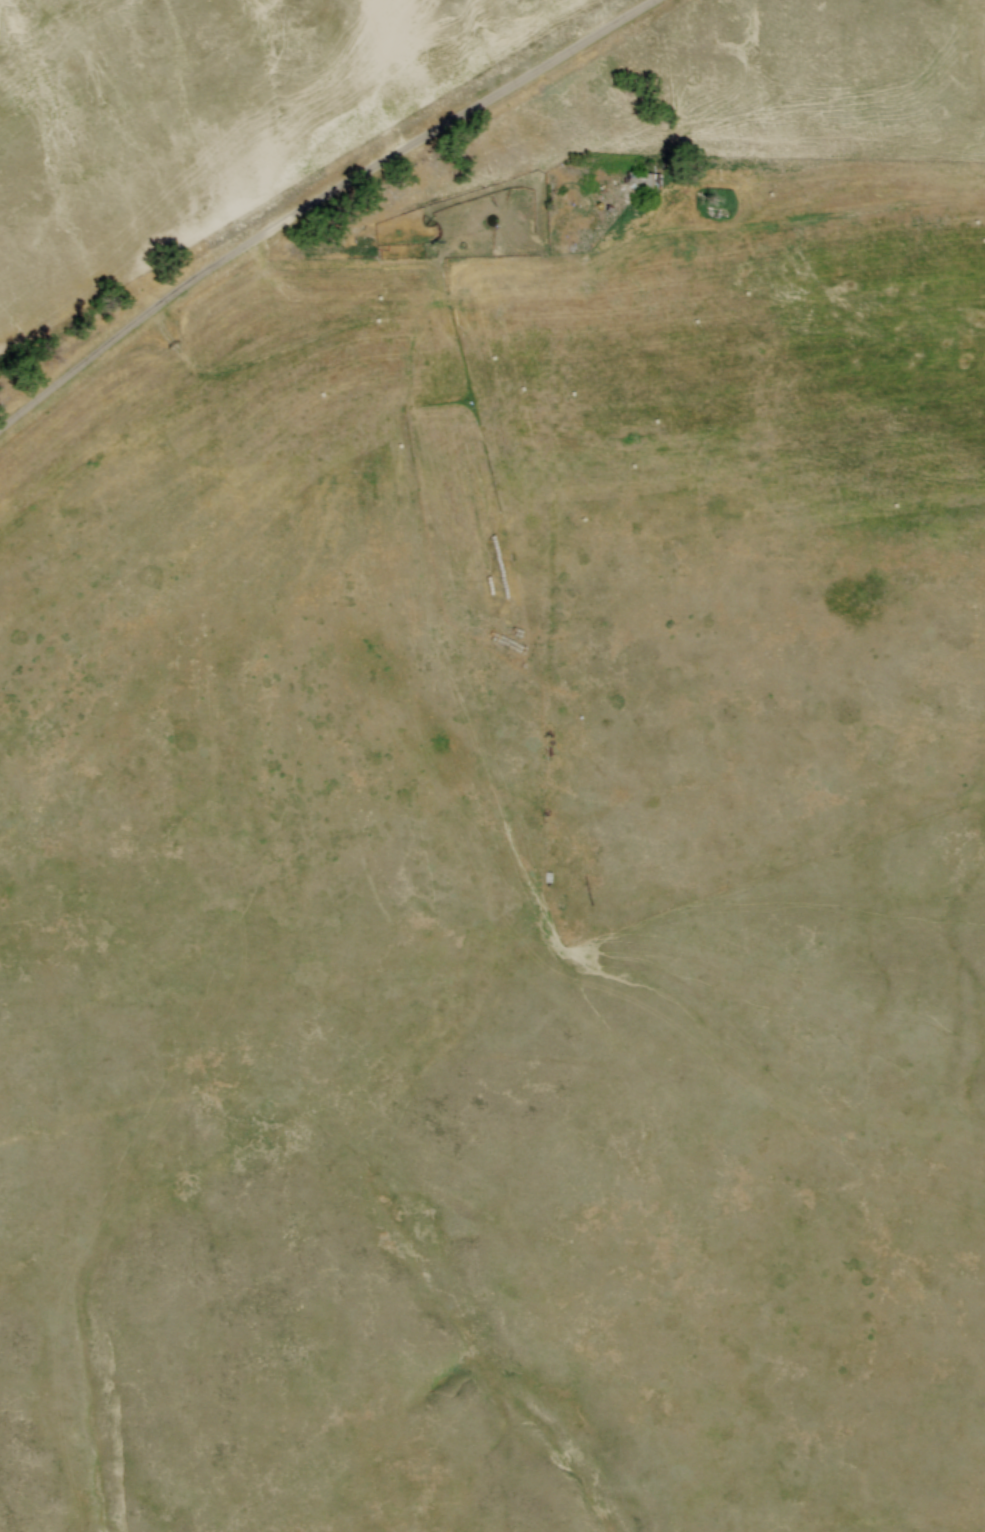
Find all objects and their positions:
building: (642, 179)
building: (656, 180)
road: (318, 199)
building: (713, 213)

